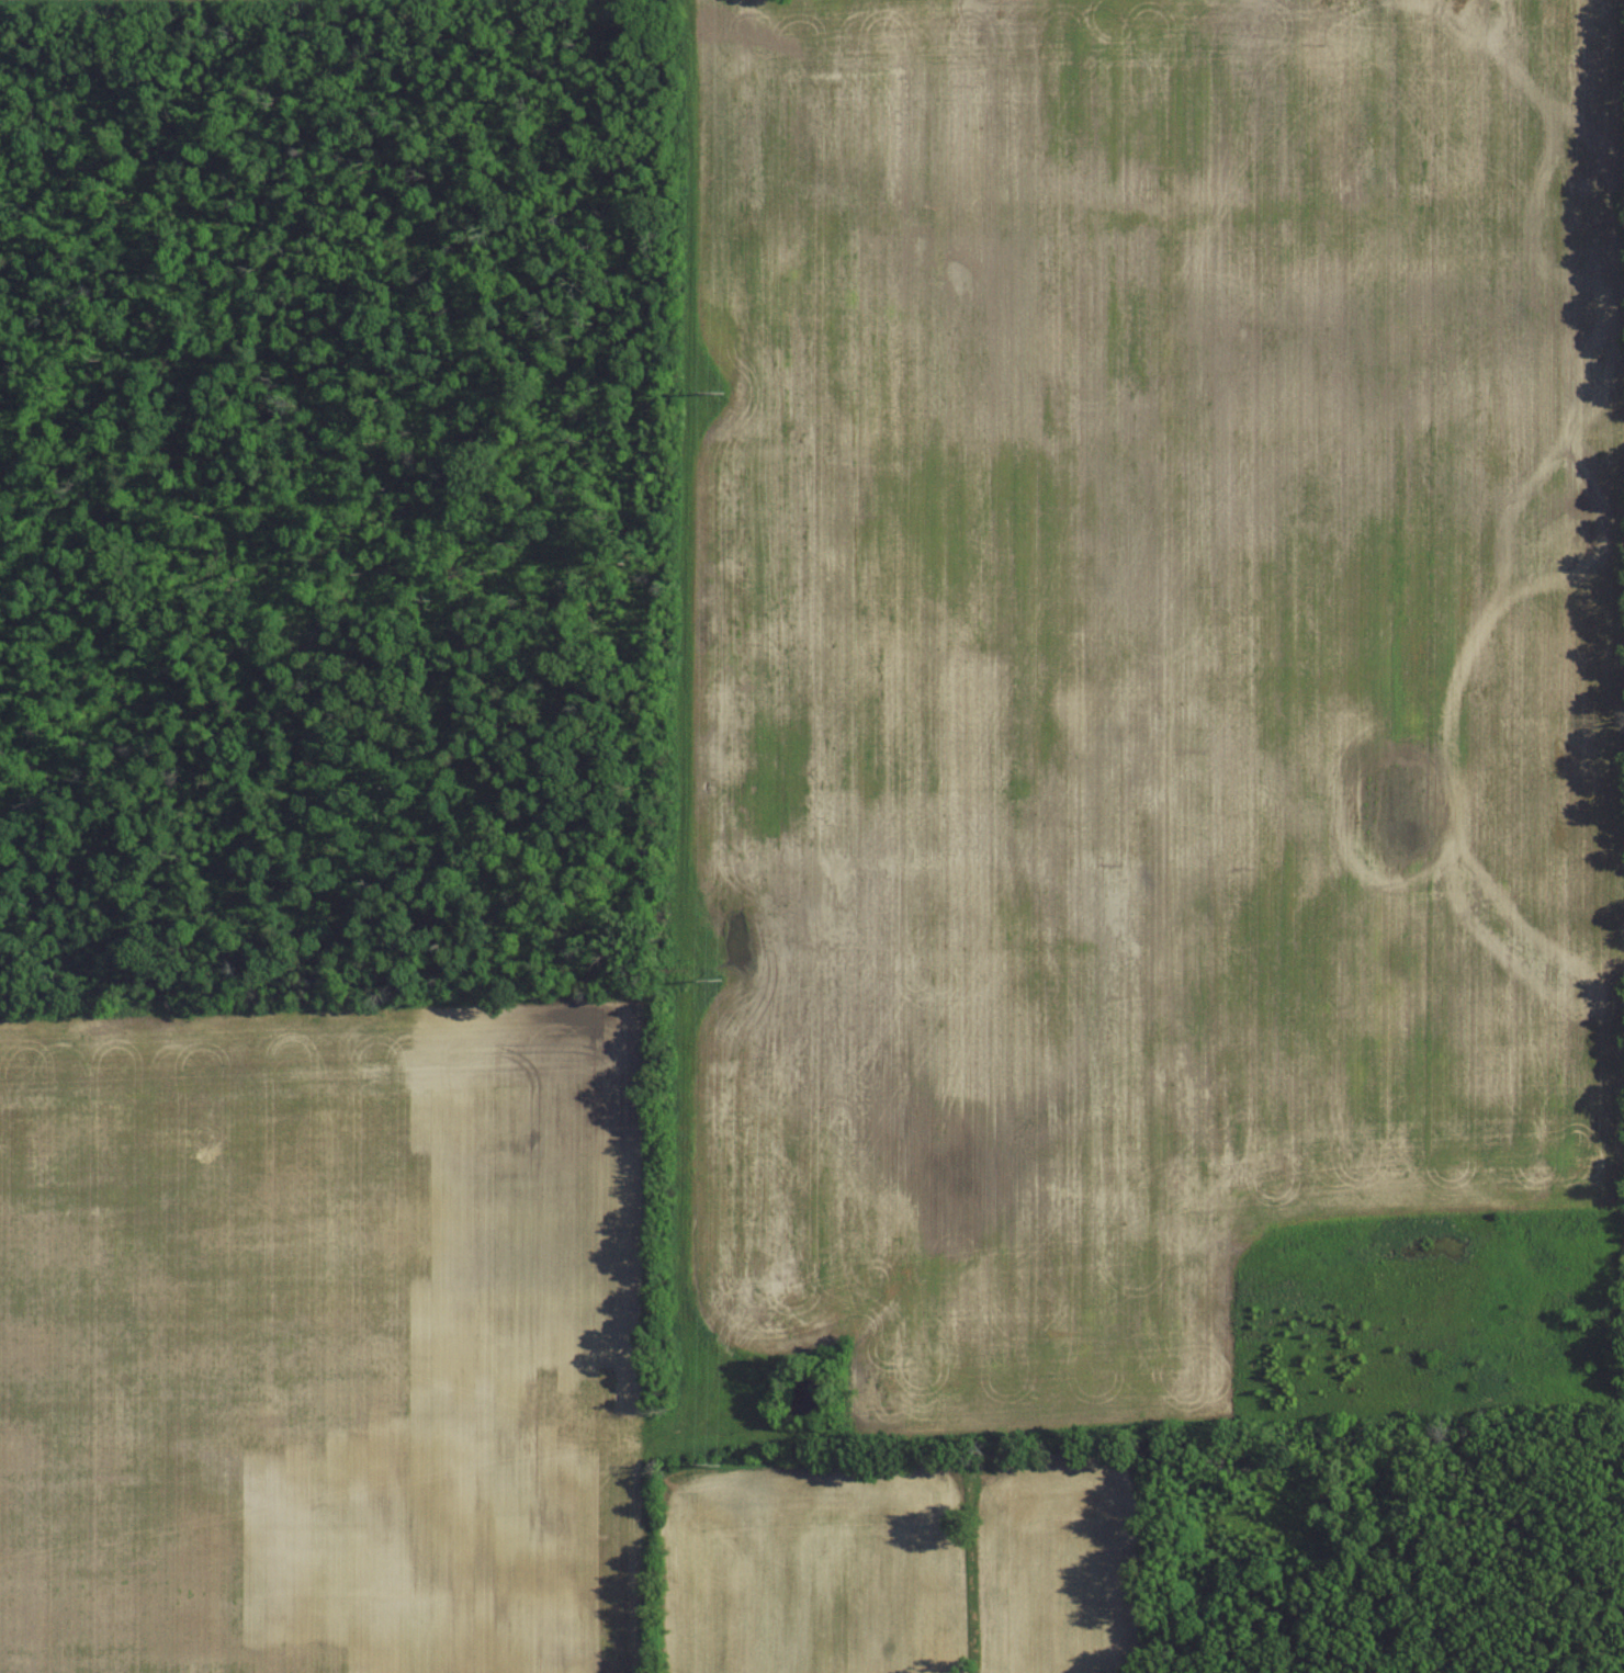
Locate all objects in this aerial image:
power tower: (728, 394)
power tower: (724, 981)
power tower: (728, 1465)

